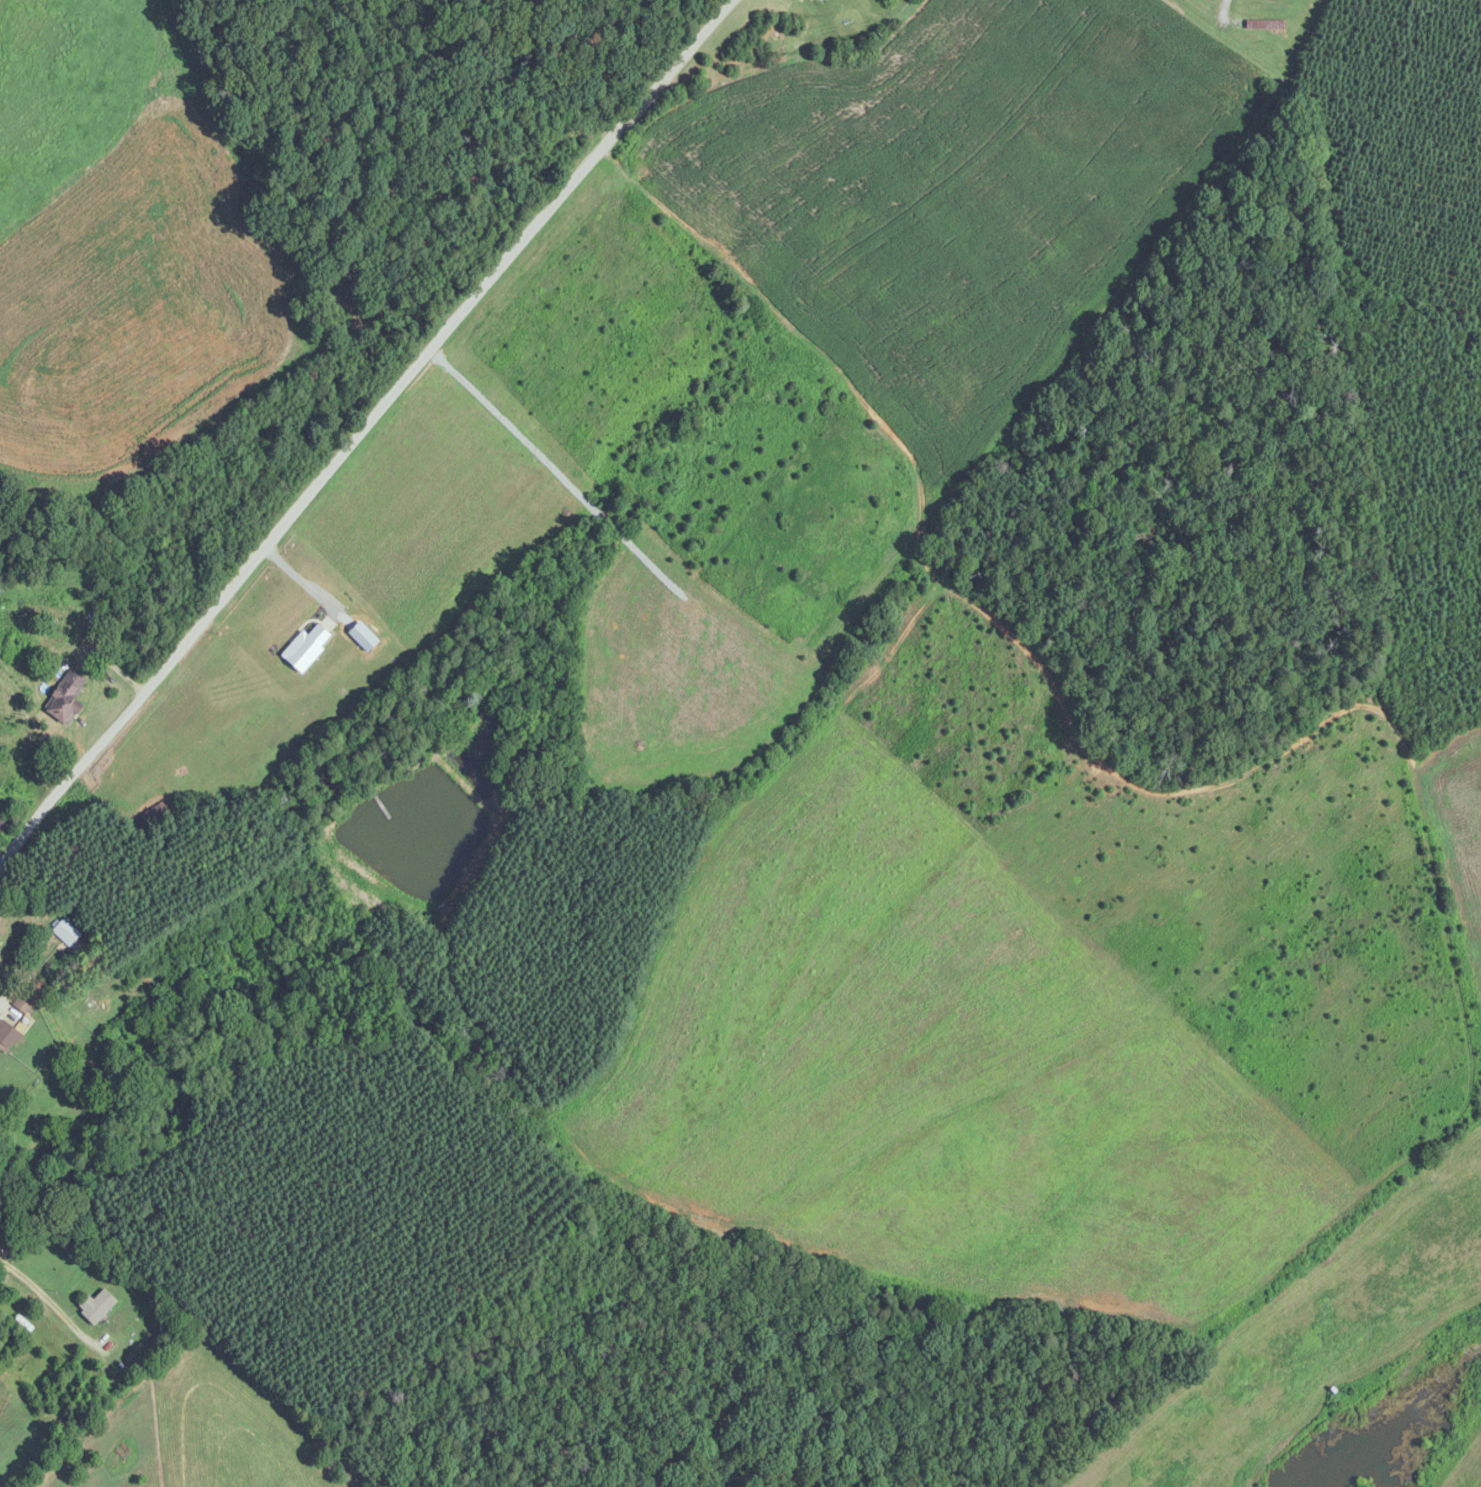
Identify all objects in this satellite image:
road: (1201, 11)
building: (1265, 24)
road: (356, 432)
building: (67, 697)
building: (153, 814)
building: (4, 823)
building: (67, 932)
building: (26, 1001)
building: (6, 1035)
road: (33, 1278)
building: (98, 1305)

